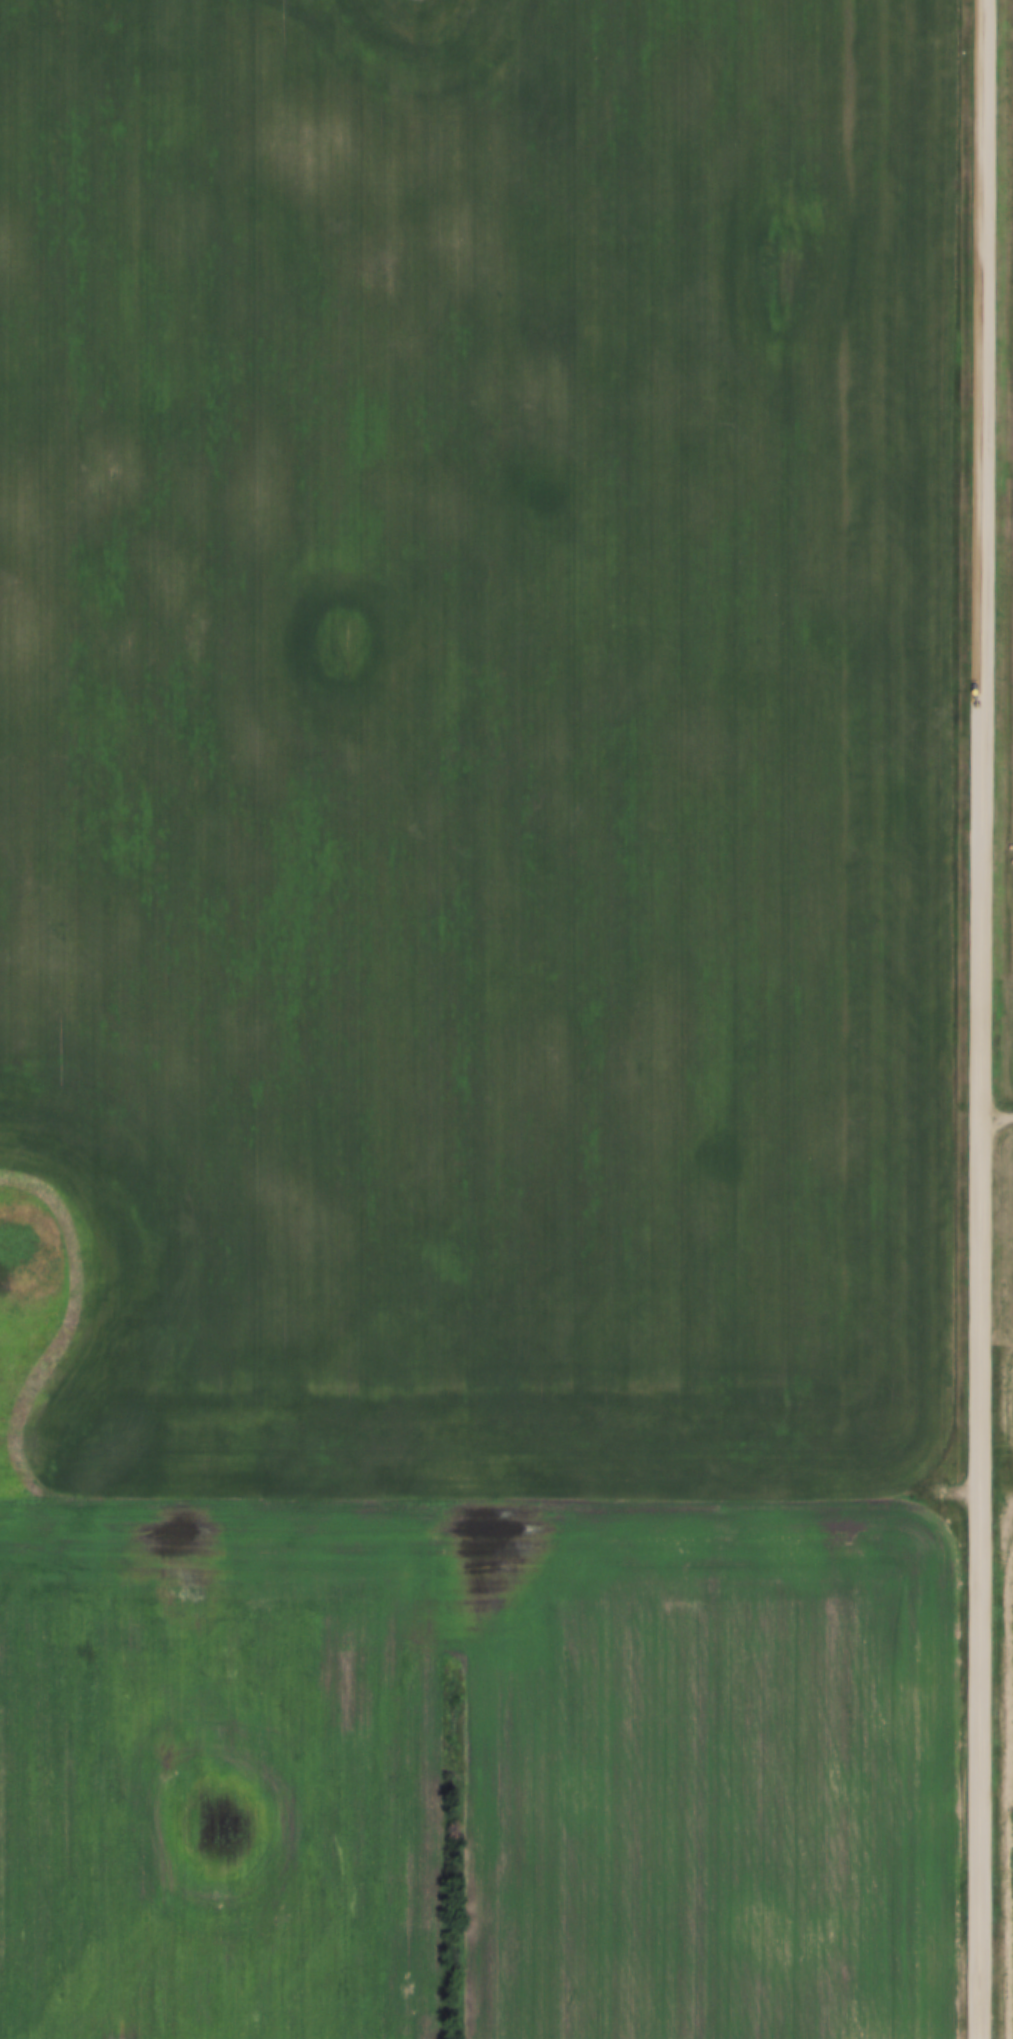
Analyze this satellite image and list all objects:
road: (981, 1019)
road: (997, 1112)

